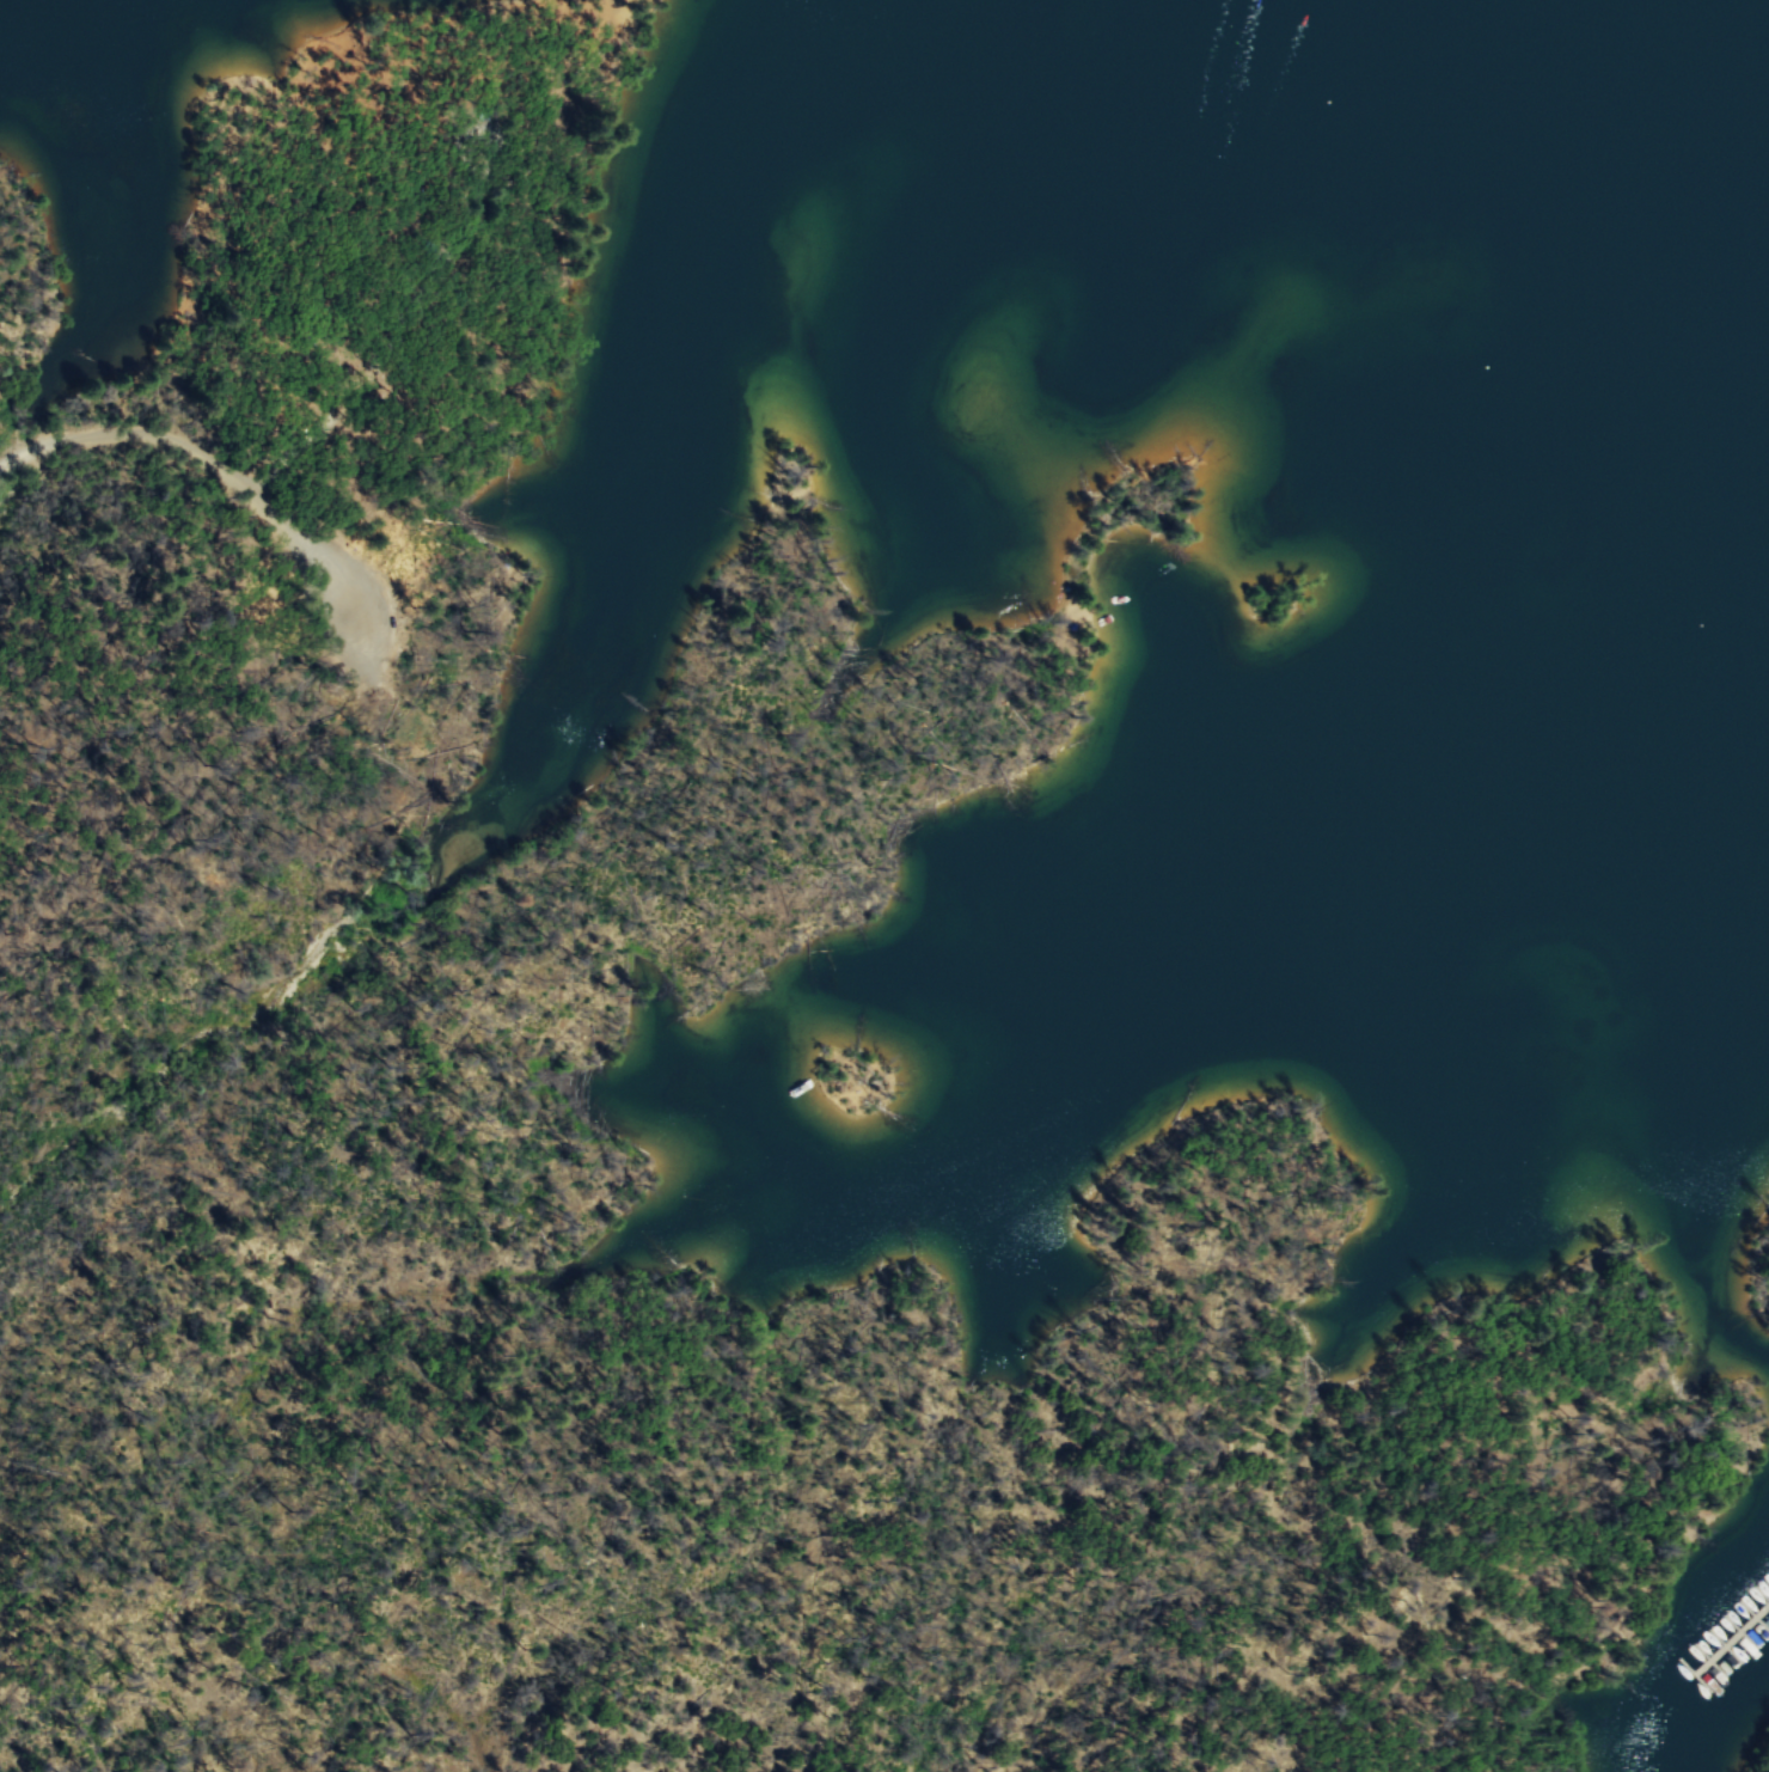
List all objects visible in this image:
road: (244, 481)
pier: (1764, 1609)
pier: (1756, 1629)
pier: (1767, 1638)
pier: (1742, 1645)
pier: (1757, 1660)
pier: (1727, 1661)
pier: (1738, 1664)
pier: (1743, 1675)
pier: (1714, 1676)
pier: (1730, 1691)
pier: (1700, 1692)
pier: (1715, 1706)

